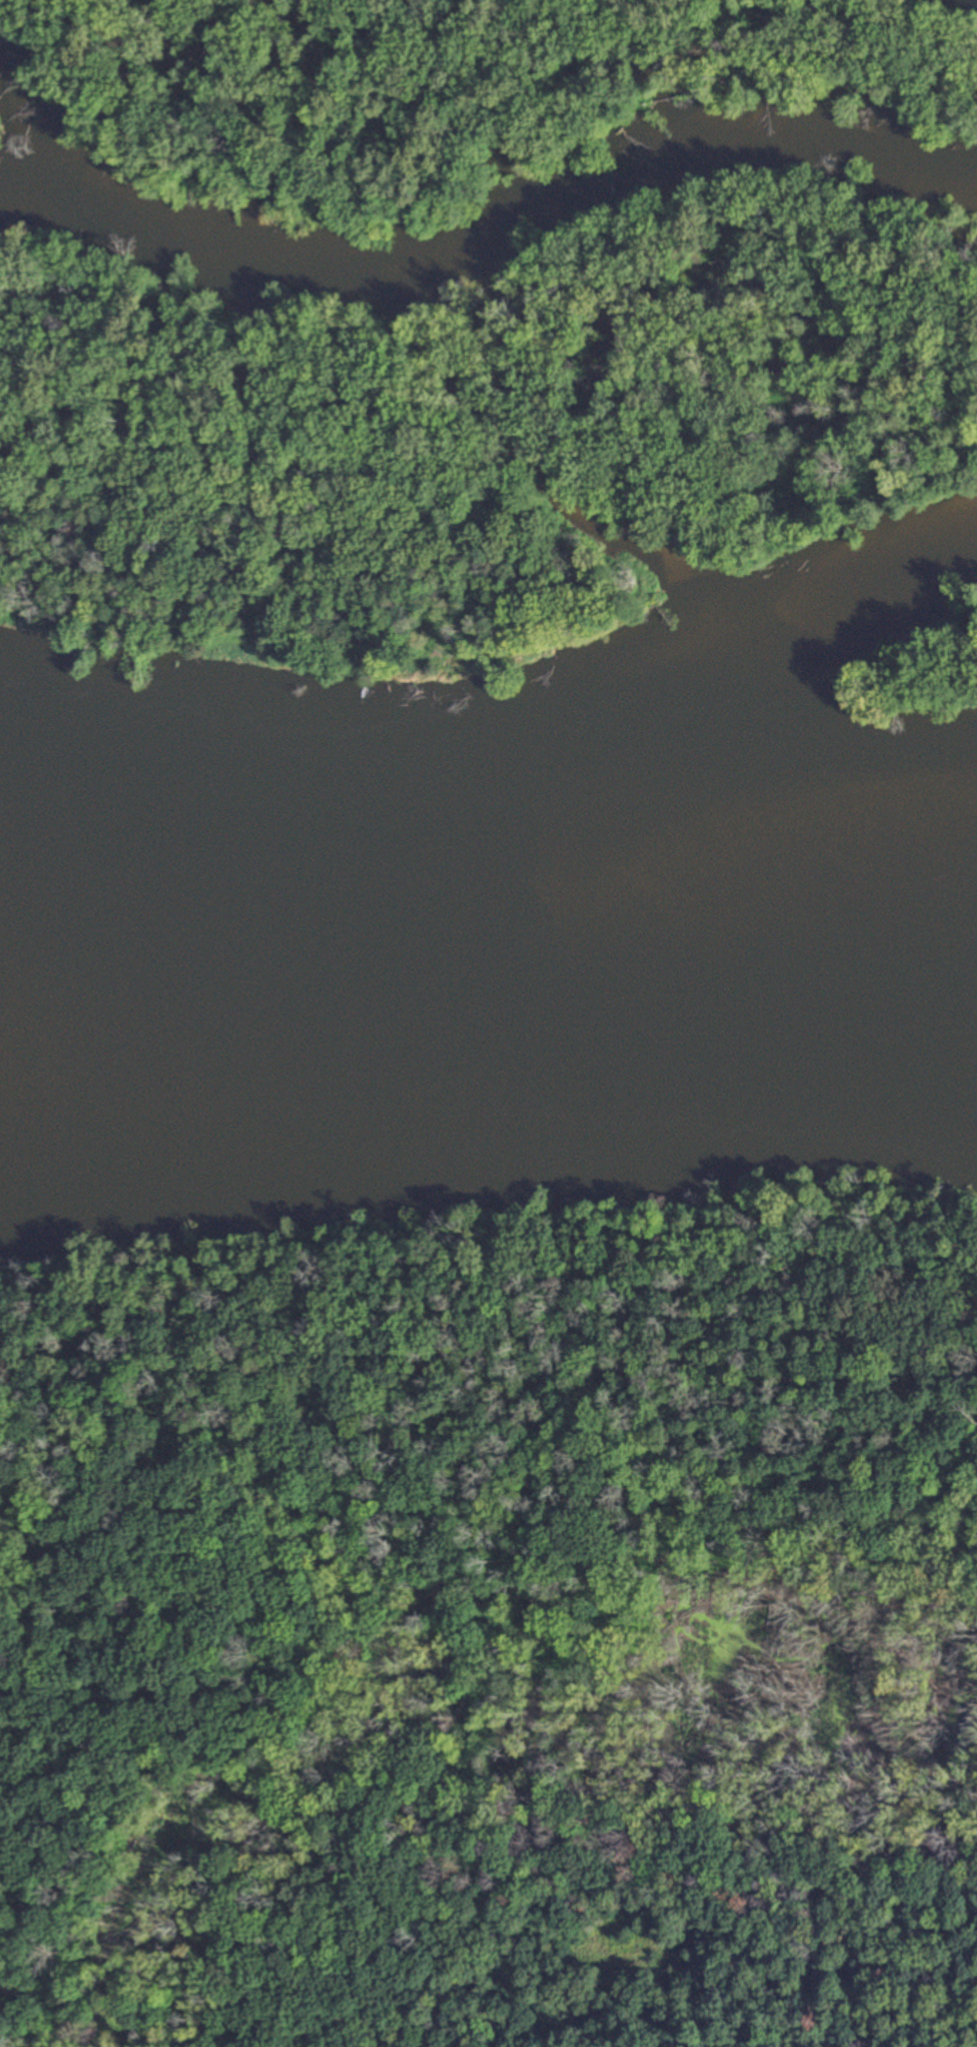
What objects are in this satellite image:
river: (490, 951)

